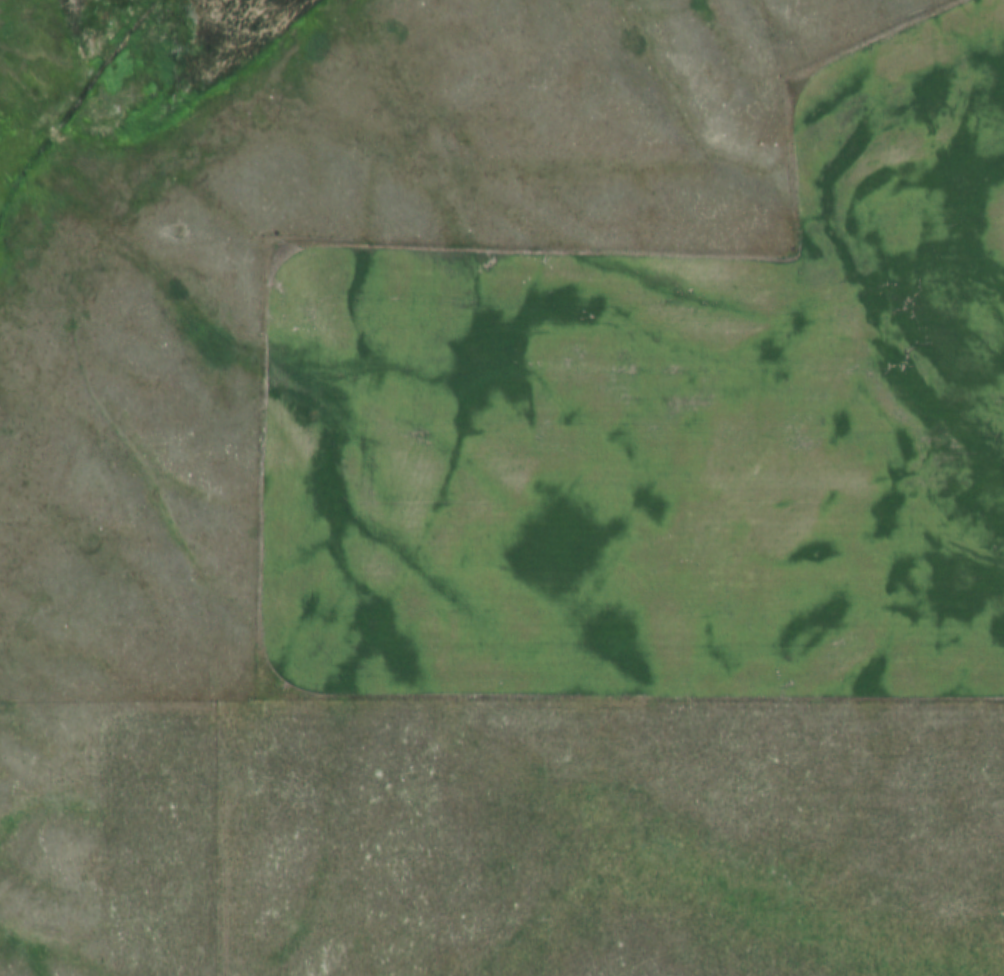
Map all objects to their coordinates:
road: (226, 843)

